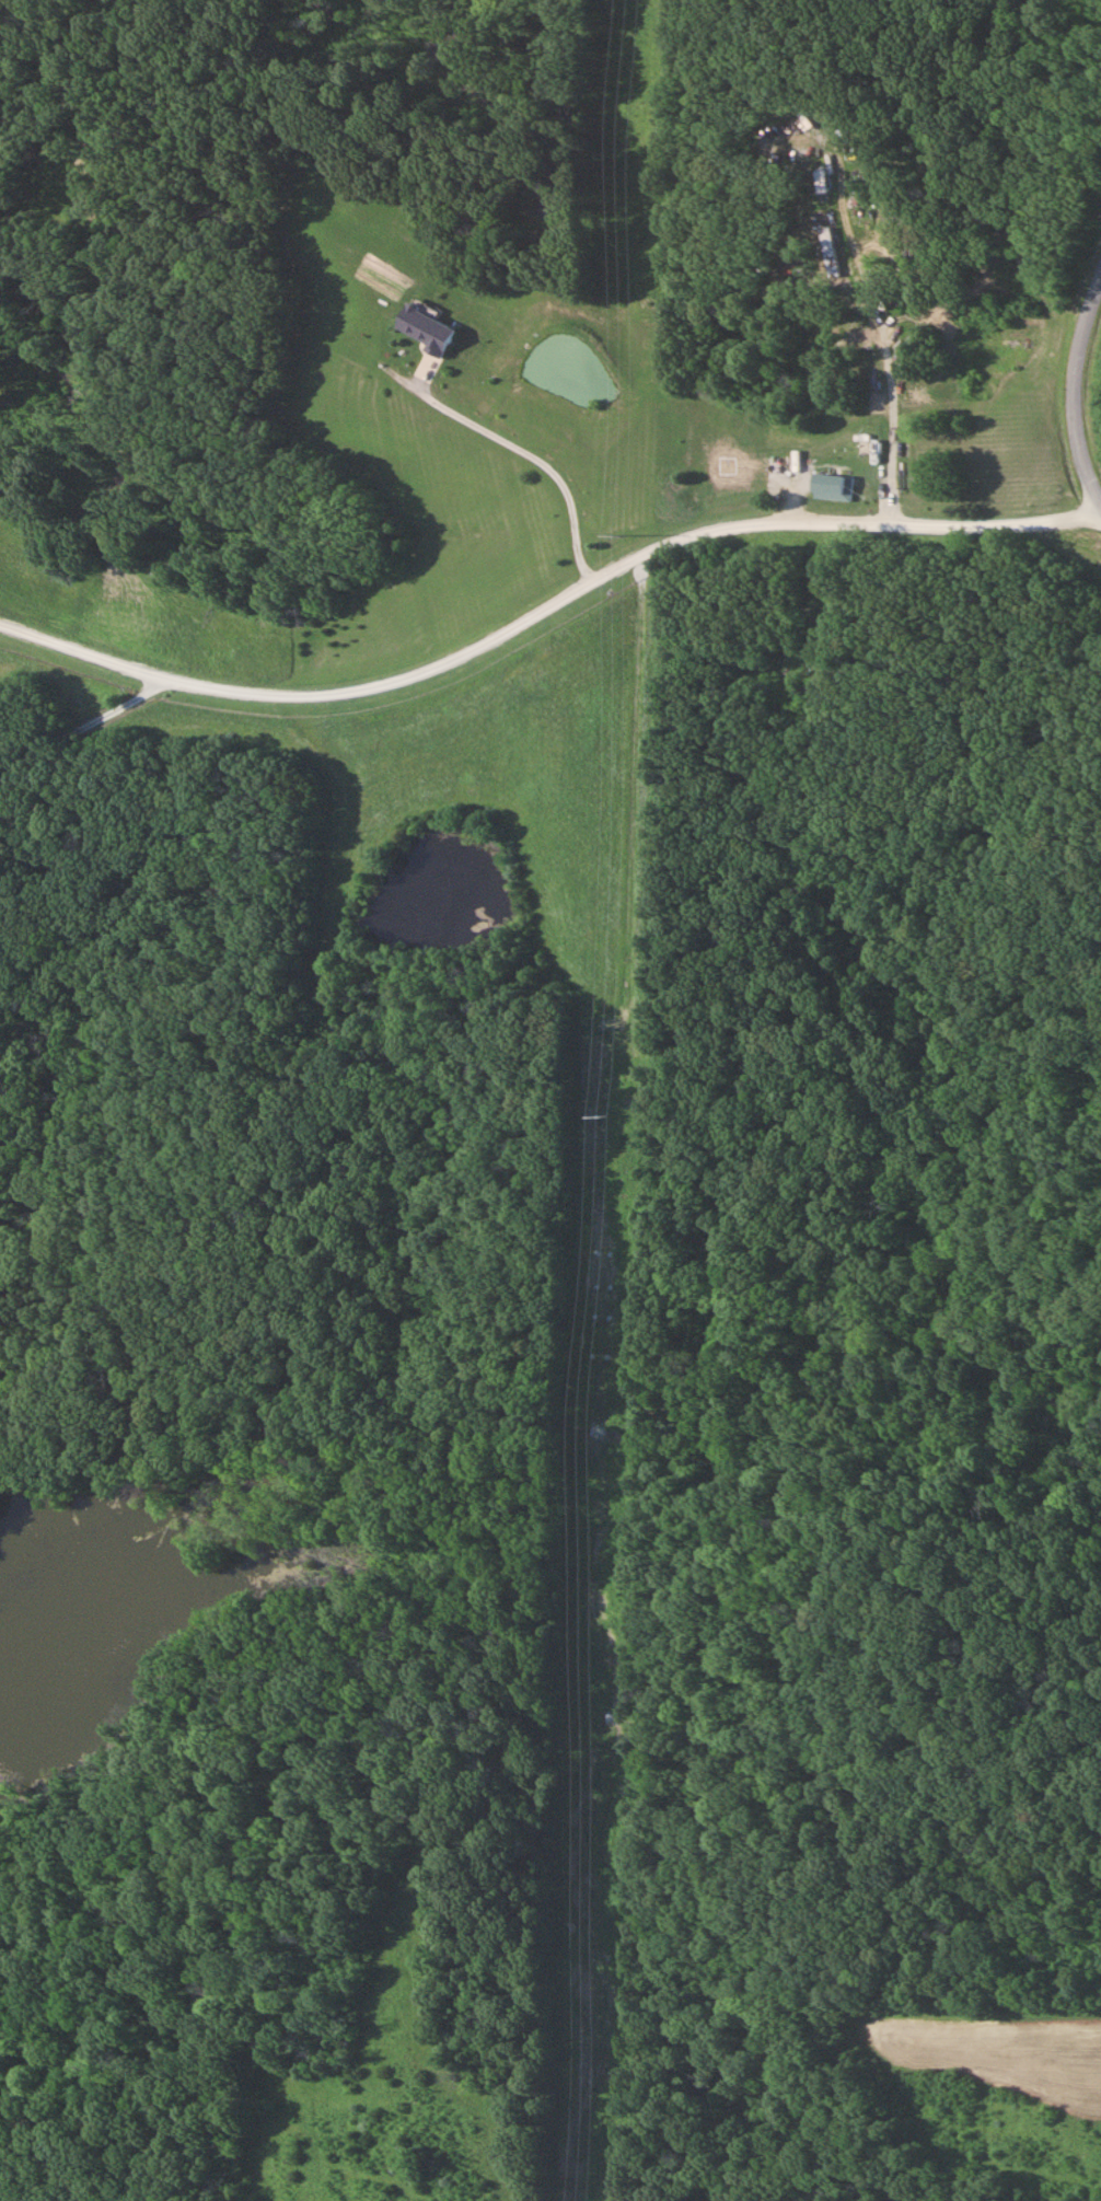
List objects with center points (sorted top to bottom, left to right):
road: (882, 326)
building: (425, 332)
road: (1073, 377)
road: (514, 447)
building: (827, 486)
power tower: (627, 536)
road: (808, 602)
road: (545, 606)
road: (82, 720)
power tower: (613, 1117)

